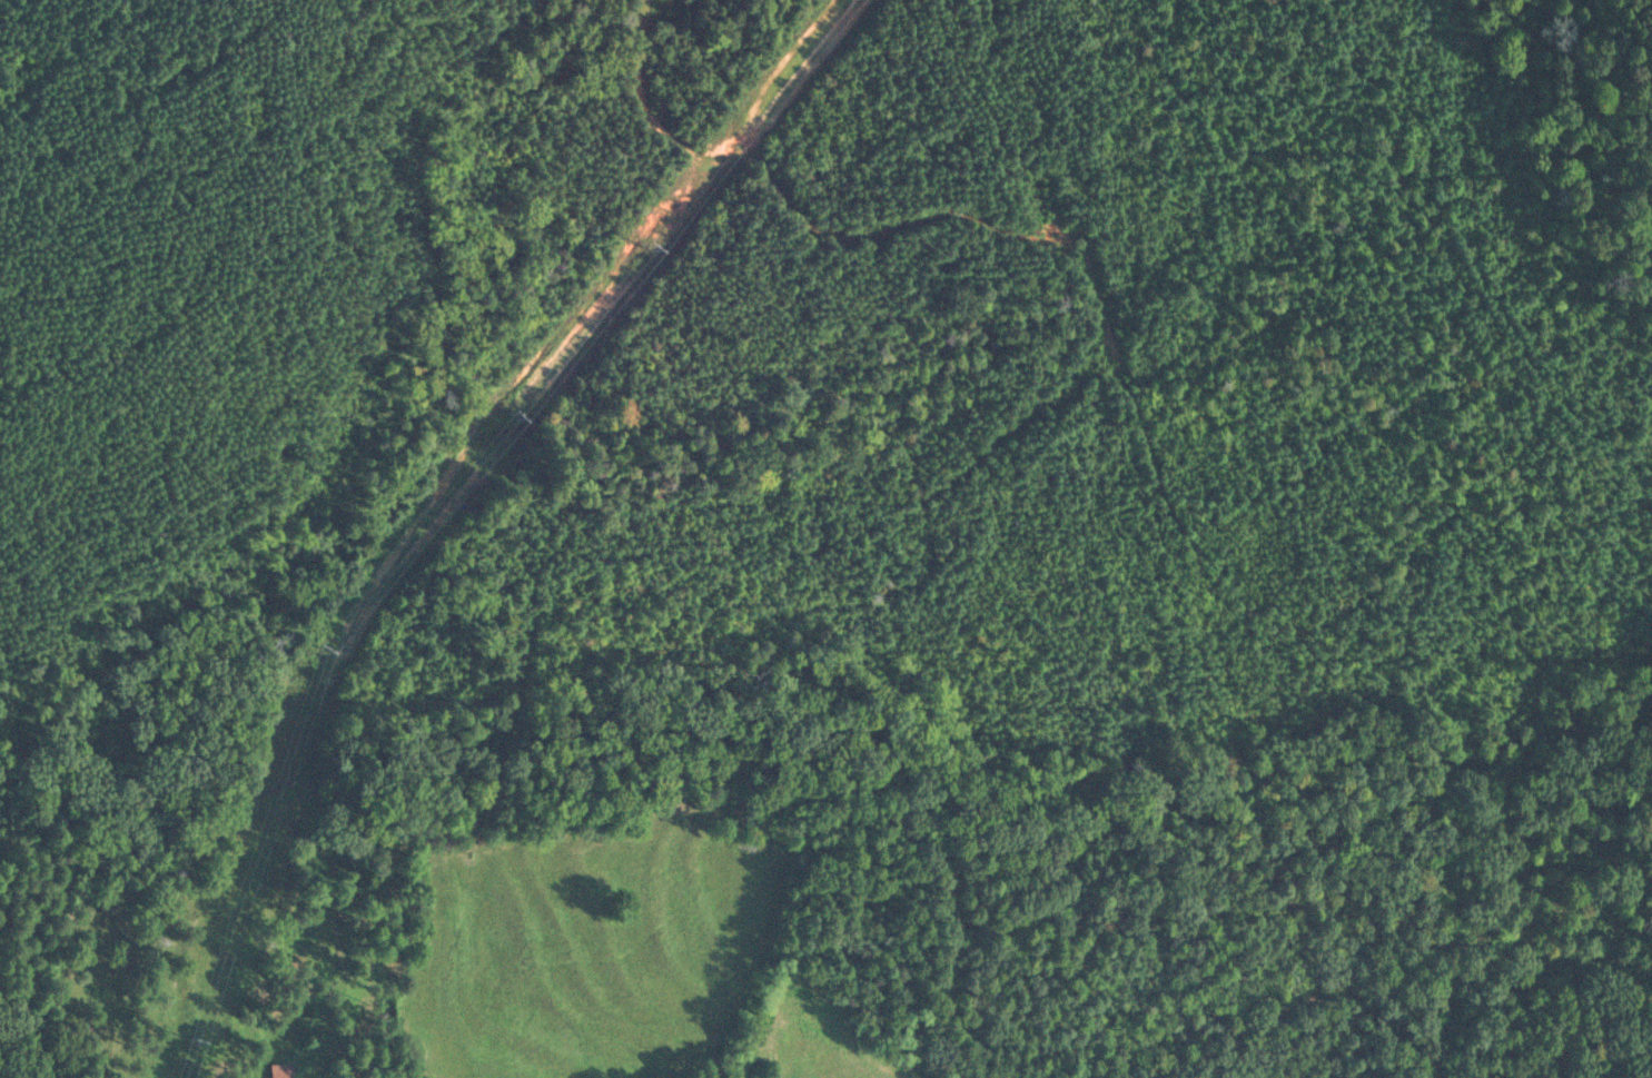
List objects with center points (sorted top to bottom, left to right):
road: (17, 82)
building: (279, 1070)

